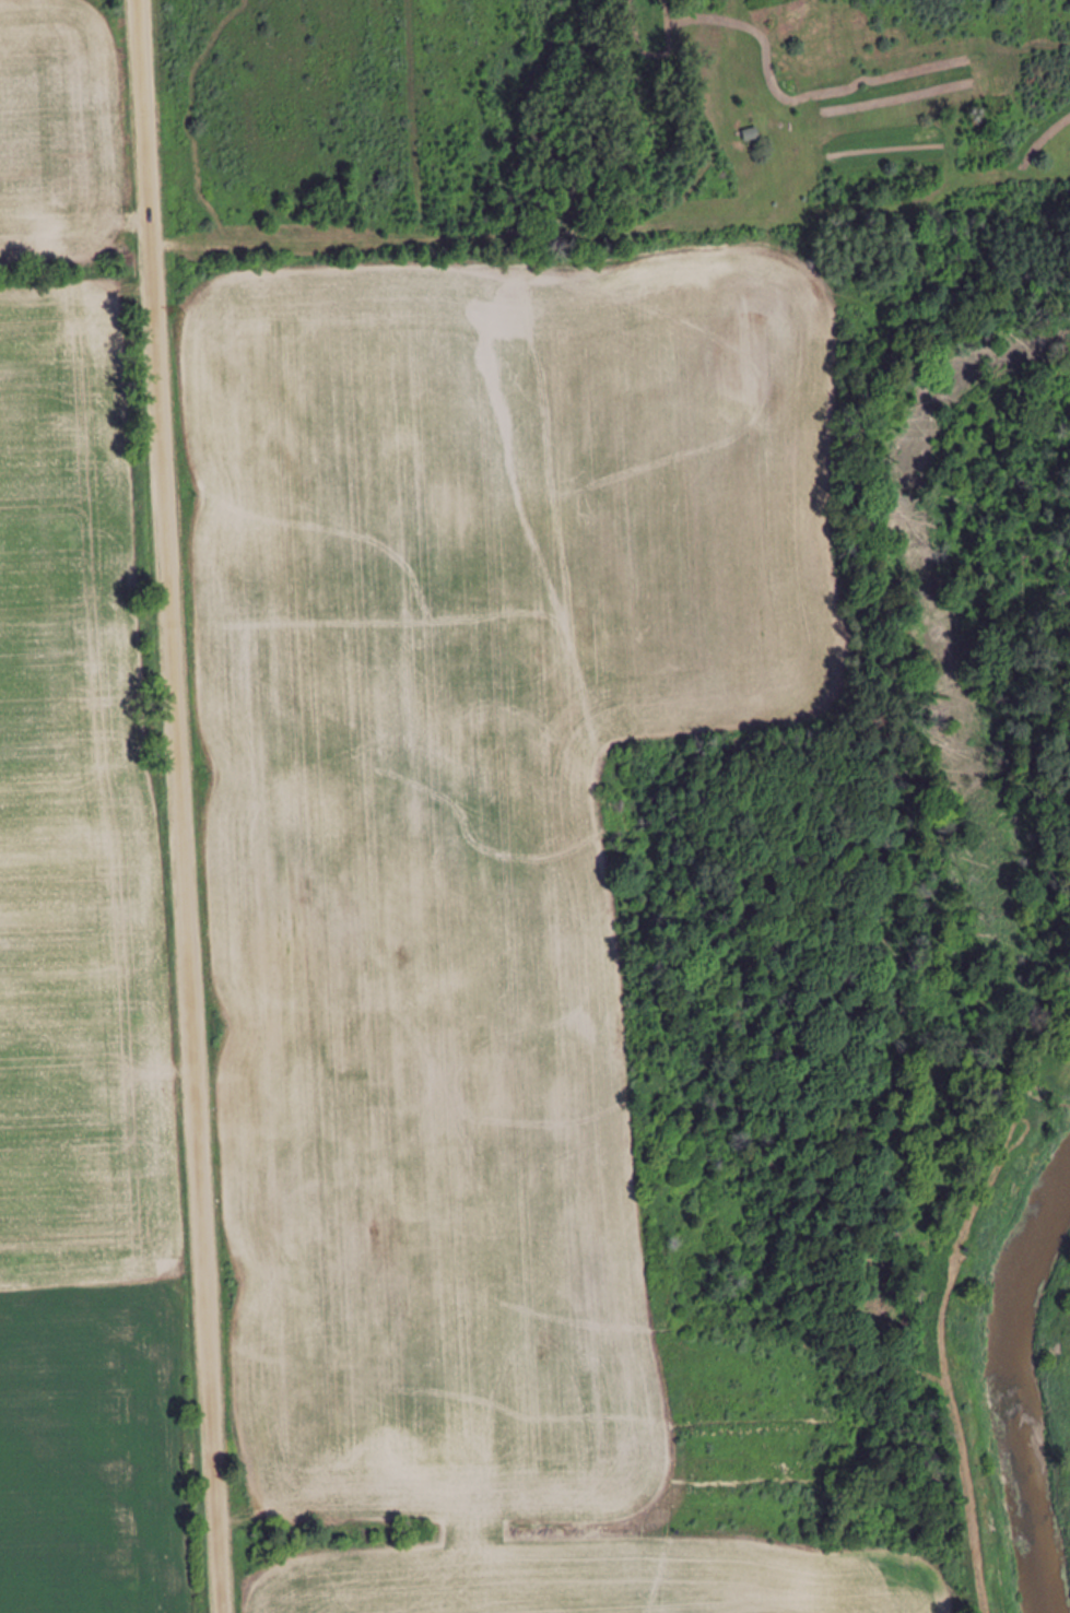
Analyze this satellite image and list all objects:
road: (174, 806)
crop: (70, 1002)
river: (1003, 1378)

